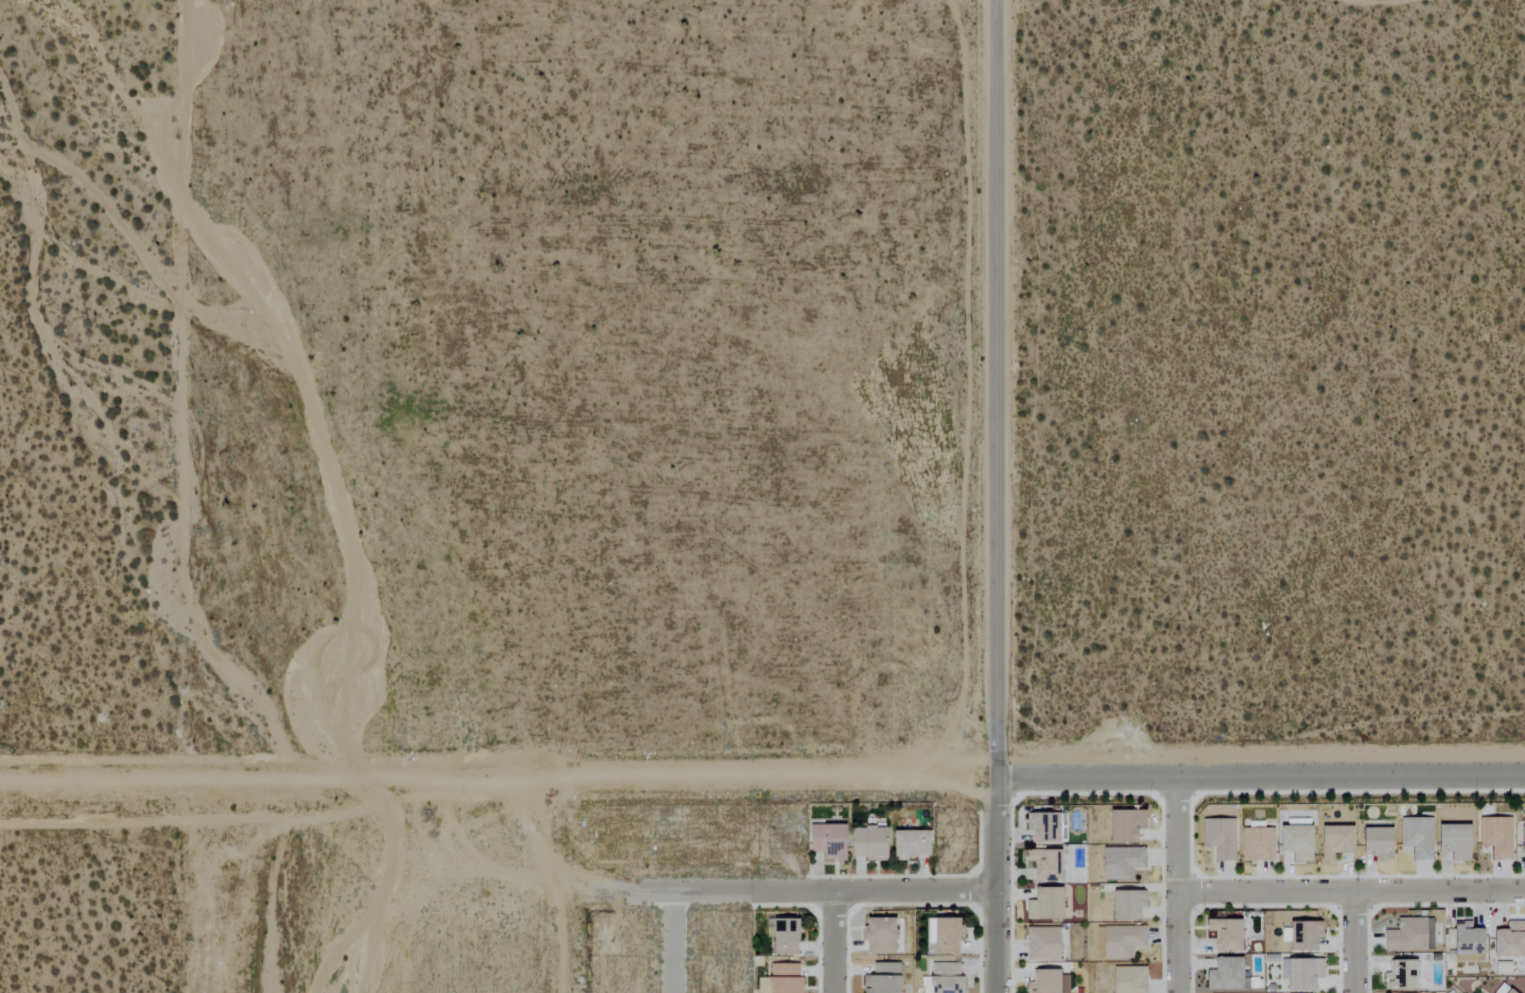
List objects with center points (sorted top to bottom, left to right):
road: (177, 399)
road: (999, 496)
road: (498, 764)
road: (1260, 774)
building: (1123, 824)
building: (1417, 837)
building: (1495, 837)
building: (1219, 838)
building: (824, 840)
building: (1452, 840)
building: (1521, 840)
building: (1333, 841)
building: (1294, 842)
building: (1374, 842)
building: (866, 843)
building: (909, 844)
building: (1256, 844)
building: (1121, 862)
building: (1044, 864)
road: (1177, 883)
road: (814, 892)
road: (1351, 892)
building: (1043, 904)
building: (1125, 904)
building: (1224, 934)
building: (1303, 935)
building: (1409, 935)
building: (782, 936)
building: (878, 936)
building: (944, 936)
building: (1465, 939)
building: (1509, 940)
building: (1120, 941)
road: (672, 942)
road: (1355, 942)
road: (836, 943)
building: (1041, 944)
building: (1300, 973)
building: (1224, 974)
building: (1400, 975)
building: (943, 978)
building: (780, 979)
building: (880, 979)
building: (1128, 980)
building: (1047, 981)
building: (1507, 991)

